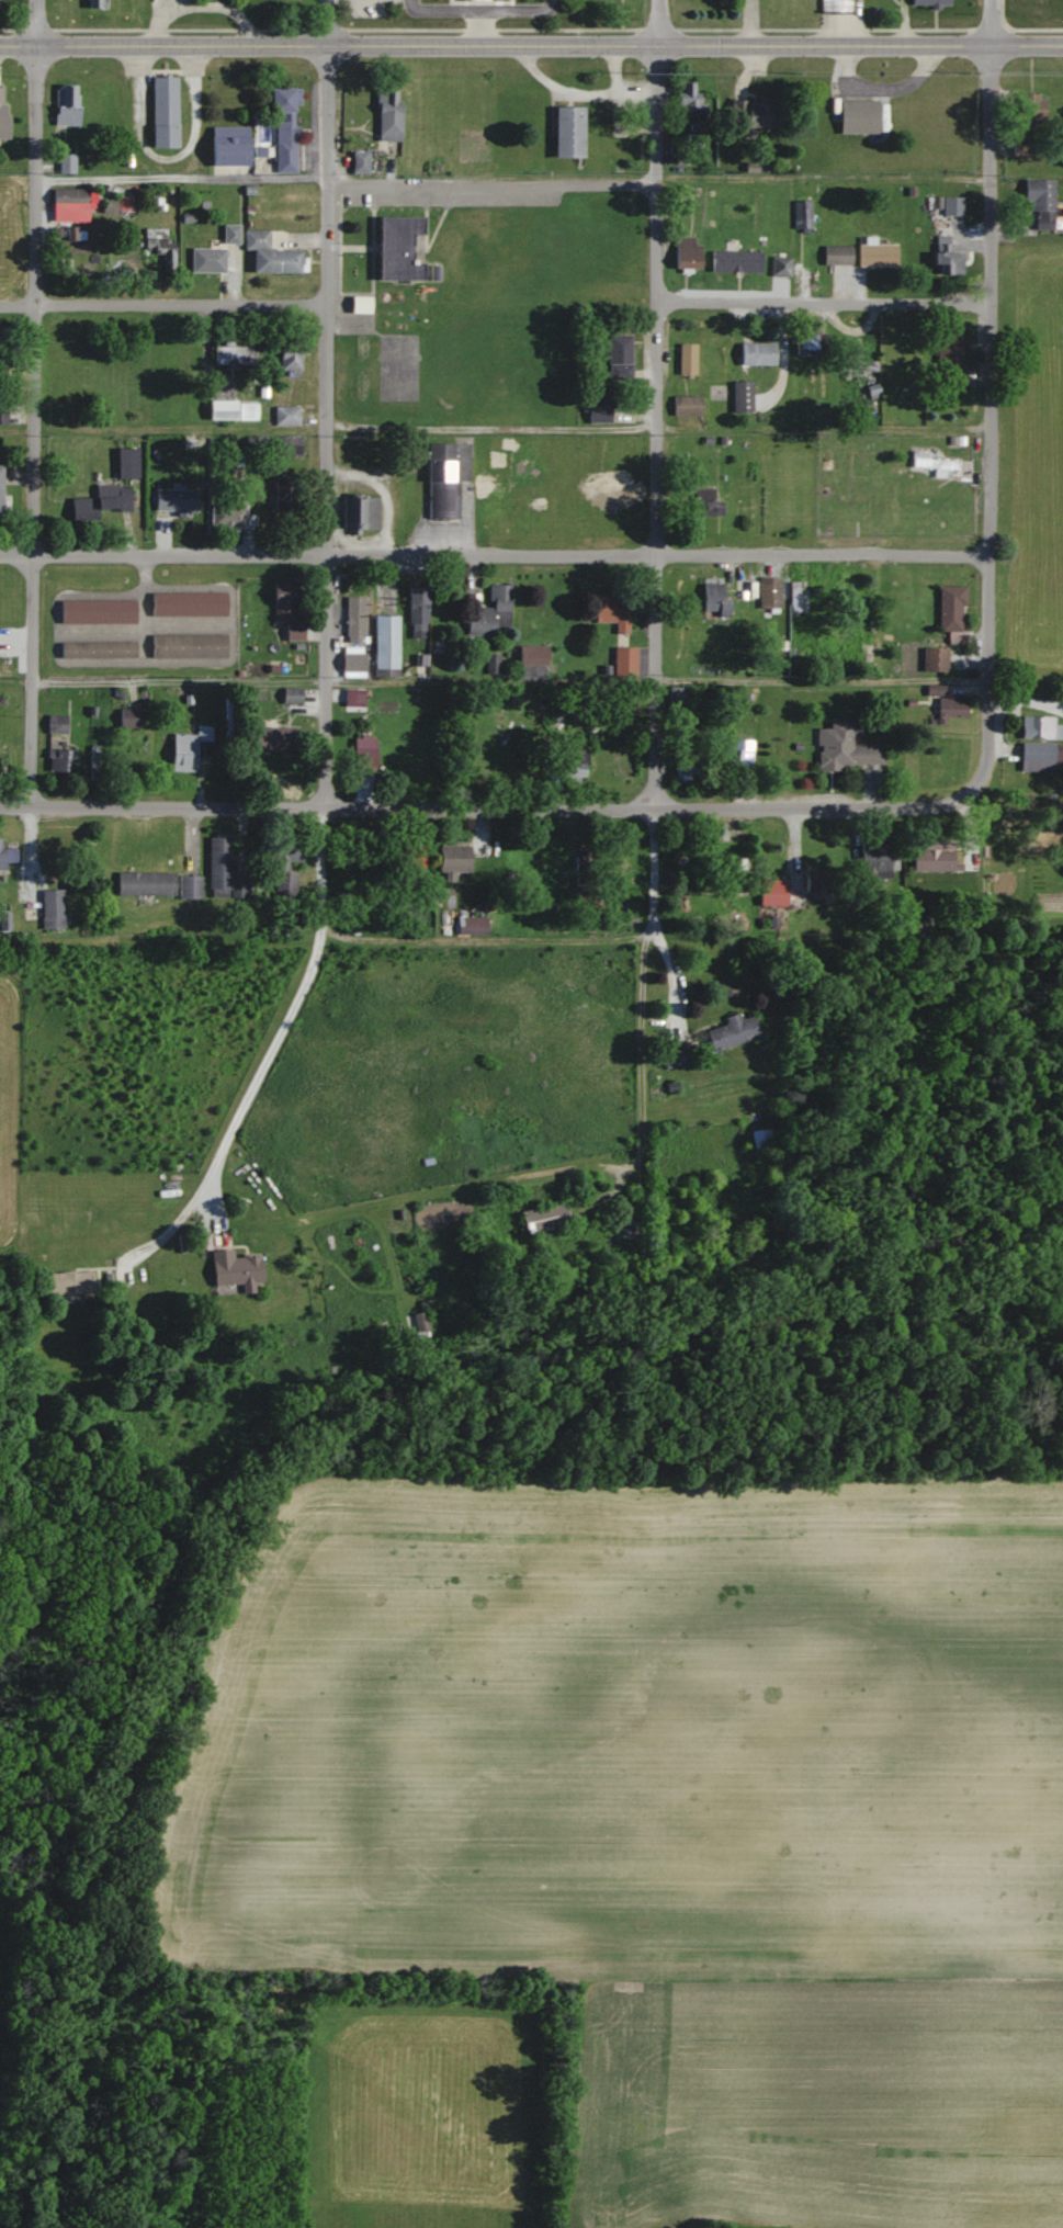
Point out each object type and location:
building: (929, 2)
building: (99, 3)
road: (411, 4)
road: (549, 4)
building: (834, 5)
road: (482, 8)
road: (480, 26)
road: (531, 44)
building: (688, 101)
building: (70, 105)
building: (1029, 110)
building: (169, 113)
building: (393, 115)
building: (754, 115)
building: (856, 116)
building: (5, 117)
building: (289, 128)
building: (565, 133)
building: (234, 146)
building: (363, 162)
road: (182, 181)
road: (491, 184)
building: (73, 197)
building: (1039, 202)
building: (801, 214)
building: (161, 246)
building: (405, 248)
building: (685, 251)
building: (274, 255)
building: (874, 255)
building: (941, 255)
building: (835, 256)
building: (211, 259)
building: (734, 260)
building: (779, 265)
road: (163, 302)
road: (825, 302)
building: (365, 305)
building: (808, 344)
building: (4, 347)
building: (756, 353)
building: (231, 354)
building: (290, 354)
building: (617, 357)
building: (686, 358)
building: (948, 358)
building: (856, 363)
building: (742, 396)
road: (34, 403)
road: (327, 404)
building: (597, 405)
road: (655, 405)
building: (685, 405)
building: (230, 409)
building: (4, 410)
building: (285, 415)
road: (993, 416)
road: (491, 419)
building: (290, 444)
building: (930, 464)
building: (444, 477)
building: (2, 489)
building: (622, 489)
building: (283, 494)
building: (177, 499)
building: (105, 501)
building: (704, 501)
building: (358, 511)
building: (226, 514)
road: (495, 555)
building: (768, 591)
building: (713, 599)
building: (283, 600)
building: (190, 604)
building: (417, 607)
building: (948, 607)
building: (612, 610)
building: (101, 611)
building: (491, 612)
building: (354, 619)
building: (841, 636)
building: (385, 642)
building: (190, 645)
building: (101, 649)
building: (934, 657)
building: (531, 658)
building: (623, 660)
building: (352, 661)
road: (117, 683)
road: (822, 683)
building: (291, 694)
building: (354, 695)
building: (947, 705)
building: (60, 723)
building: (275, 738)
building: (1040, 742)
building: (844, 746)
building: (188, 747)
building: (363, 751)
building: (738, 756)
building: (683, 758)
building: (63, 759)
building: (570, 759)
building: (97, 762)
building: (4, 767)
road: (467, 808)
building: (9, 857)
building: (873, 857)
building: (453, 858)
building: (930, 859)
building: (282, 861)
building: (409, 861)
building: (217, 864)
building: (146, 882)
building: (818, 882)
building: (188, 886)
building: (770, 891)
building: (699, 900)
building: (56, 908)
road: (672, 974)
road: (641, 1016)
building: (731, 1030)
road: (271, 1052)
building: (672, 1055)
building: (759, 1136)
building: (541, 1218)
building: (241, 1270)
building: (71, 1282)

